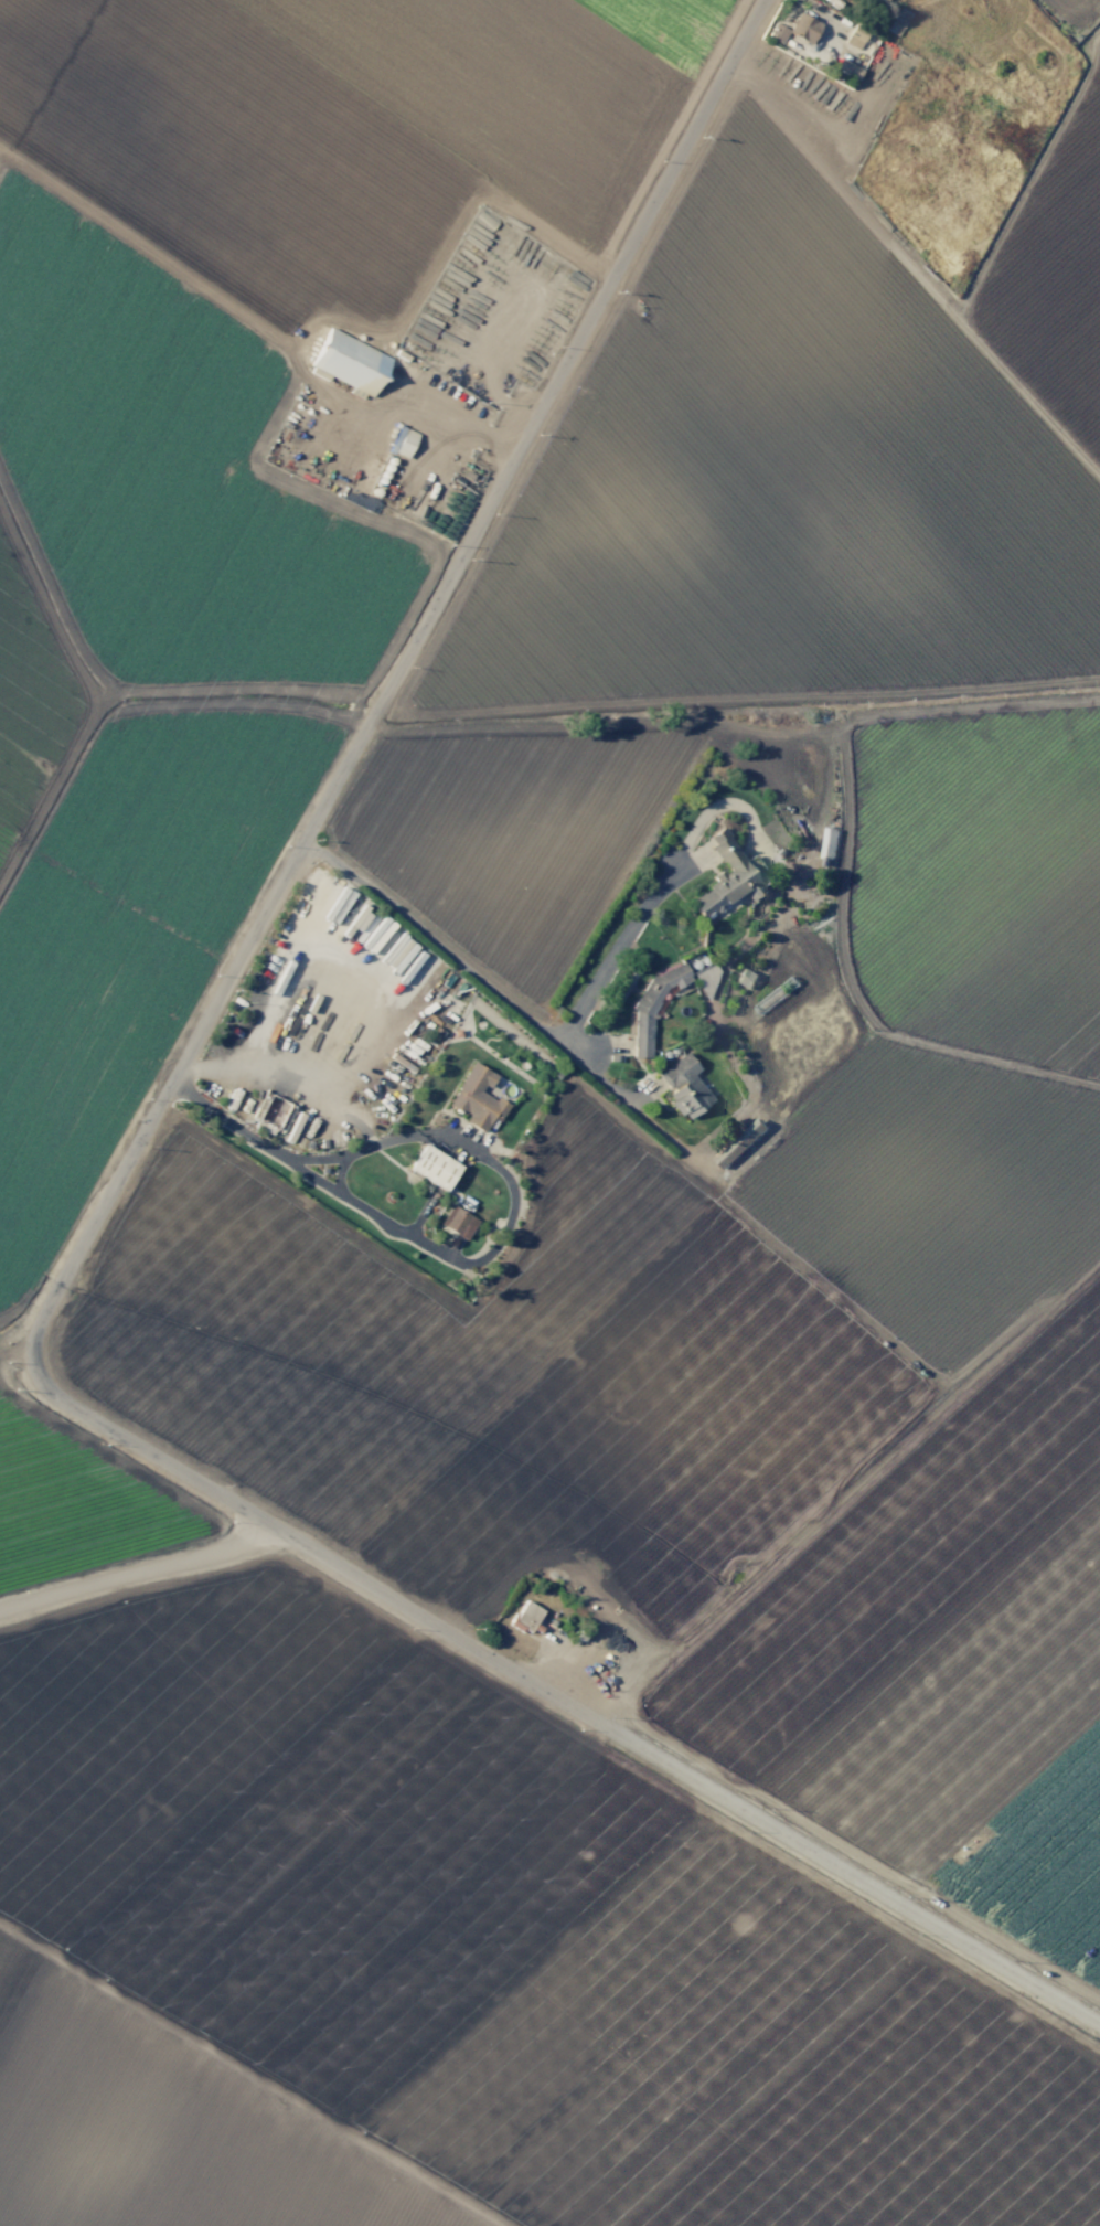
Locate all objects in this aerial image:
building: (898, 21)
building: (797, 29)
building: (856, 38)
building: (350, 361)
road: (263, 434)
building: (403, 441)
building: (827, 843)
building: (726, 877)
building: (746, 978)
building: (706, 980)
building: (651, 1007)
road: (515, 1010)
building: (684, 1086)
building: (476, 1098)
crop: (950, 1120)
building: (740, 1143)
building: (434, 1167)
building: (458, 1222)
road: (88, 1243)
road: (136, 1569)
building: (526, 1616)

